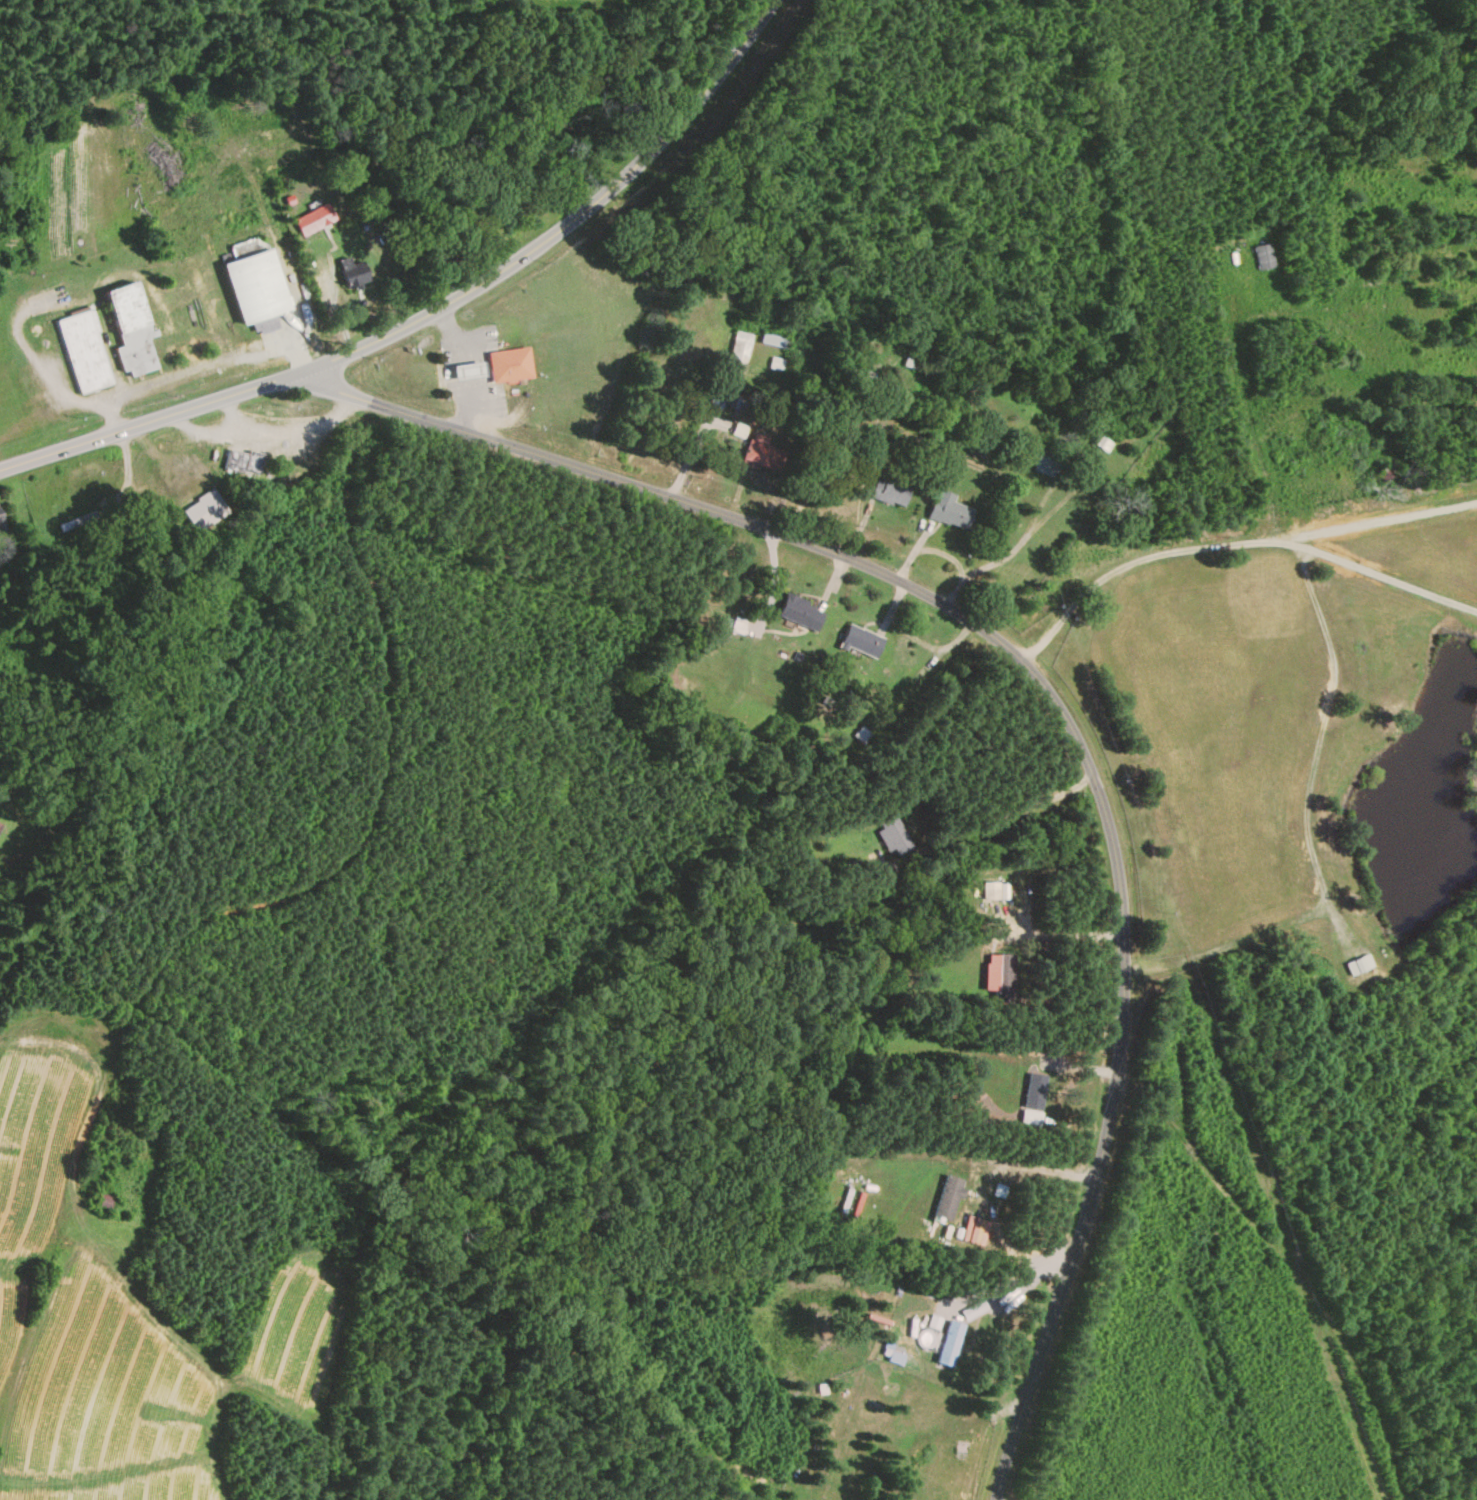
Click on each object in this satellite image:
crop: (567, 4)
building: (315, 220)
wastewater plant: (16, 234)
building: (256, 242)
building: (354, 273)
building: (257, 288)
road: (434, 310)
building: (133, 332)
building: (774, 341)
building: (740, 348)
building: (85, 352)
building: (508, 357)
gas station: (461, 362)
road: (473, 364)
building: (924, 368)
building: (469, 372)
building: (736, 401)
road: (234, 415)
road: (265, 433)
building: (1102, 444)
building: (763, 453)
building: (245, 462)
building: (1048, 464)
building: (891, 494)
building: (205, 511)
building: (950, 512)
building: (2, 524)
building: (74, 524)
building: (803, 613)
building: (282, 619)
building: (863, 641)
road: (1053, 699)
building: (863, 736)
road: (989, 822)
building: (1, 826)
building: (896, 836)
building: (995, 891)
road: (1062, 935)
building: (1000, 977)
road: (987, 1189)
building: (951, 1200)
building: (105, 1203)
building: (975, 1311)
building: (951, 1344)

